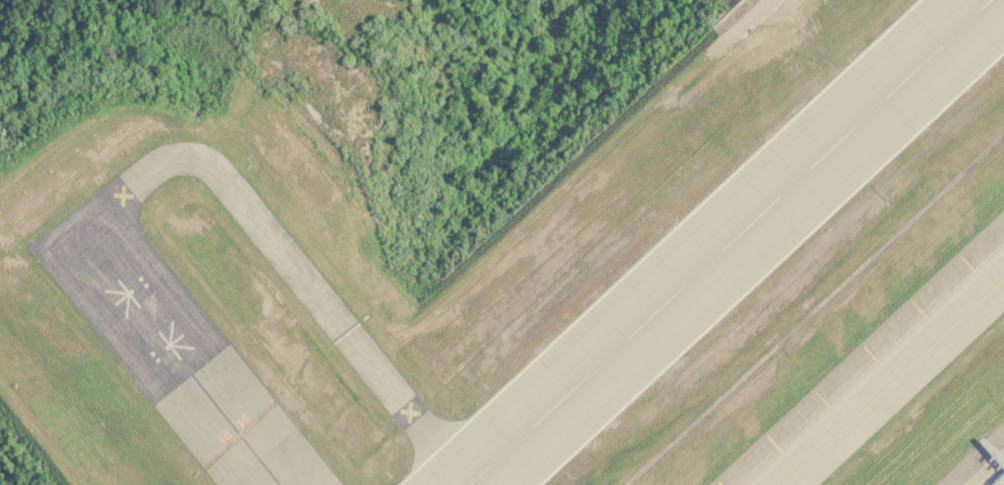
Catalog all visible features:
airport runway: (732, 242)
airport: (521, 276)
airport taxiway: (171, 350)
airport taxiway: (892, 380)
airport apron: (989, 471)

